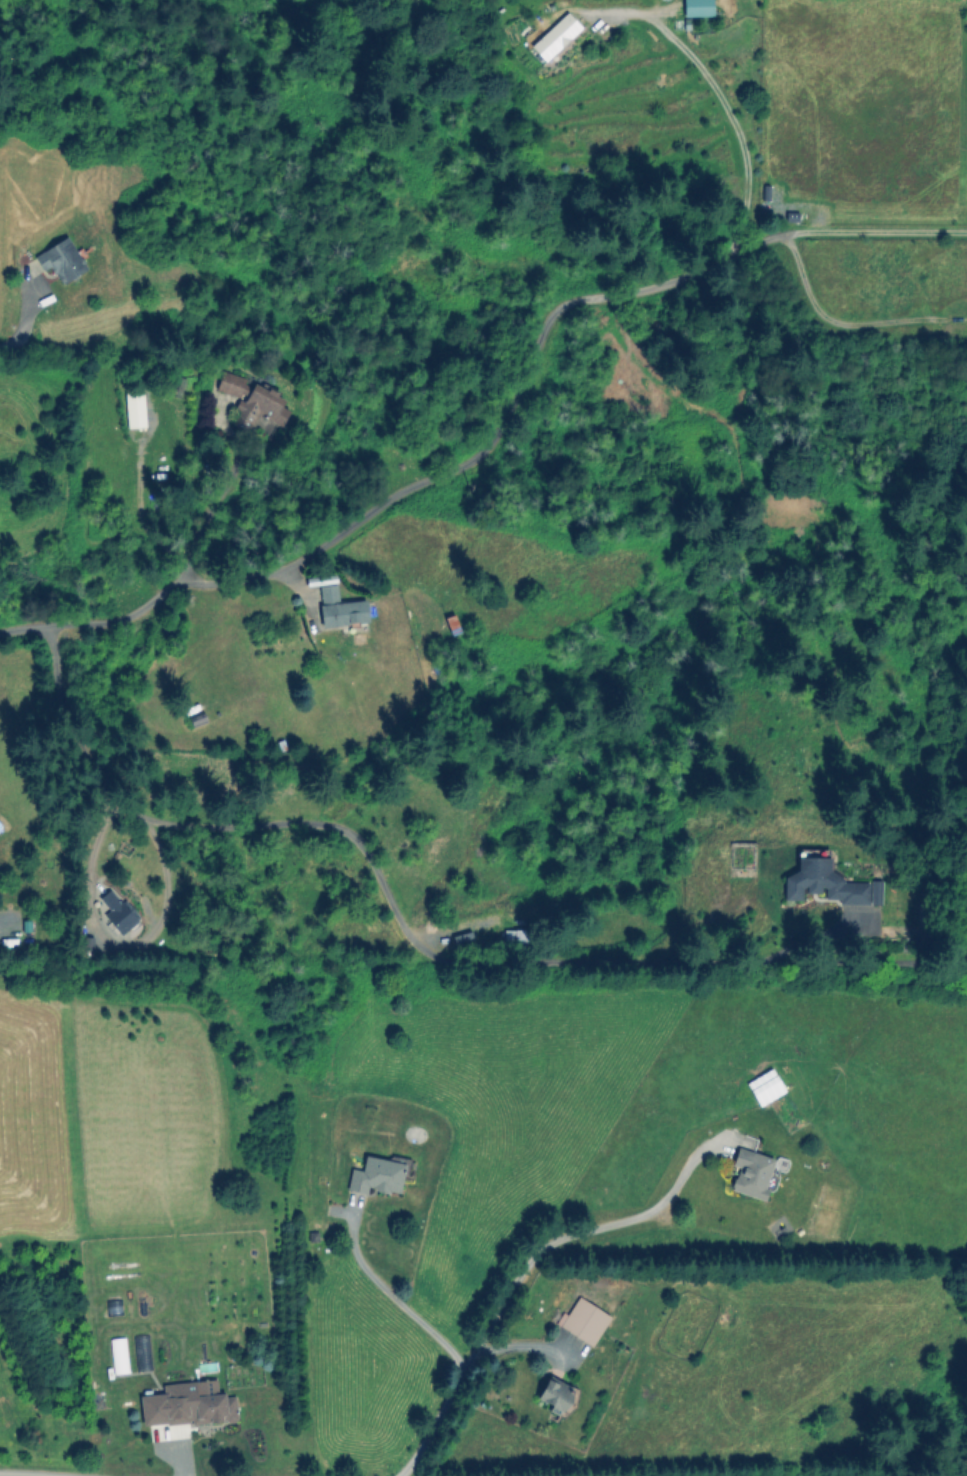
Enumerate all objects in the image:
building: (697, 7)
building: (555, 35)
road: (722, 102)
building: (765, 192)
road: (879, 230)
building: (61, 259)
road: (23, 325)
road: (829, 325)
building: (253, 403)
building: (134, 408)
road: (431, 481)
road: (224, 489)
building: (339, 608)
road: (353, 839)
building: (741, 860)
building: (827, 883)
building: (117, 911)
road: (114, 947)
building: (751, 1172)
building: (378, 1174)
road: (520, 1272)
road: (388, 1293)
building: (583, 1320)
road: (522, 1346)
building: (555, 1393)
building: (187, 1404)
road: (32, 1474)

